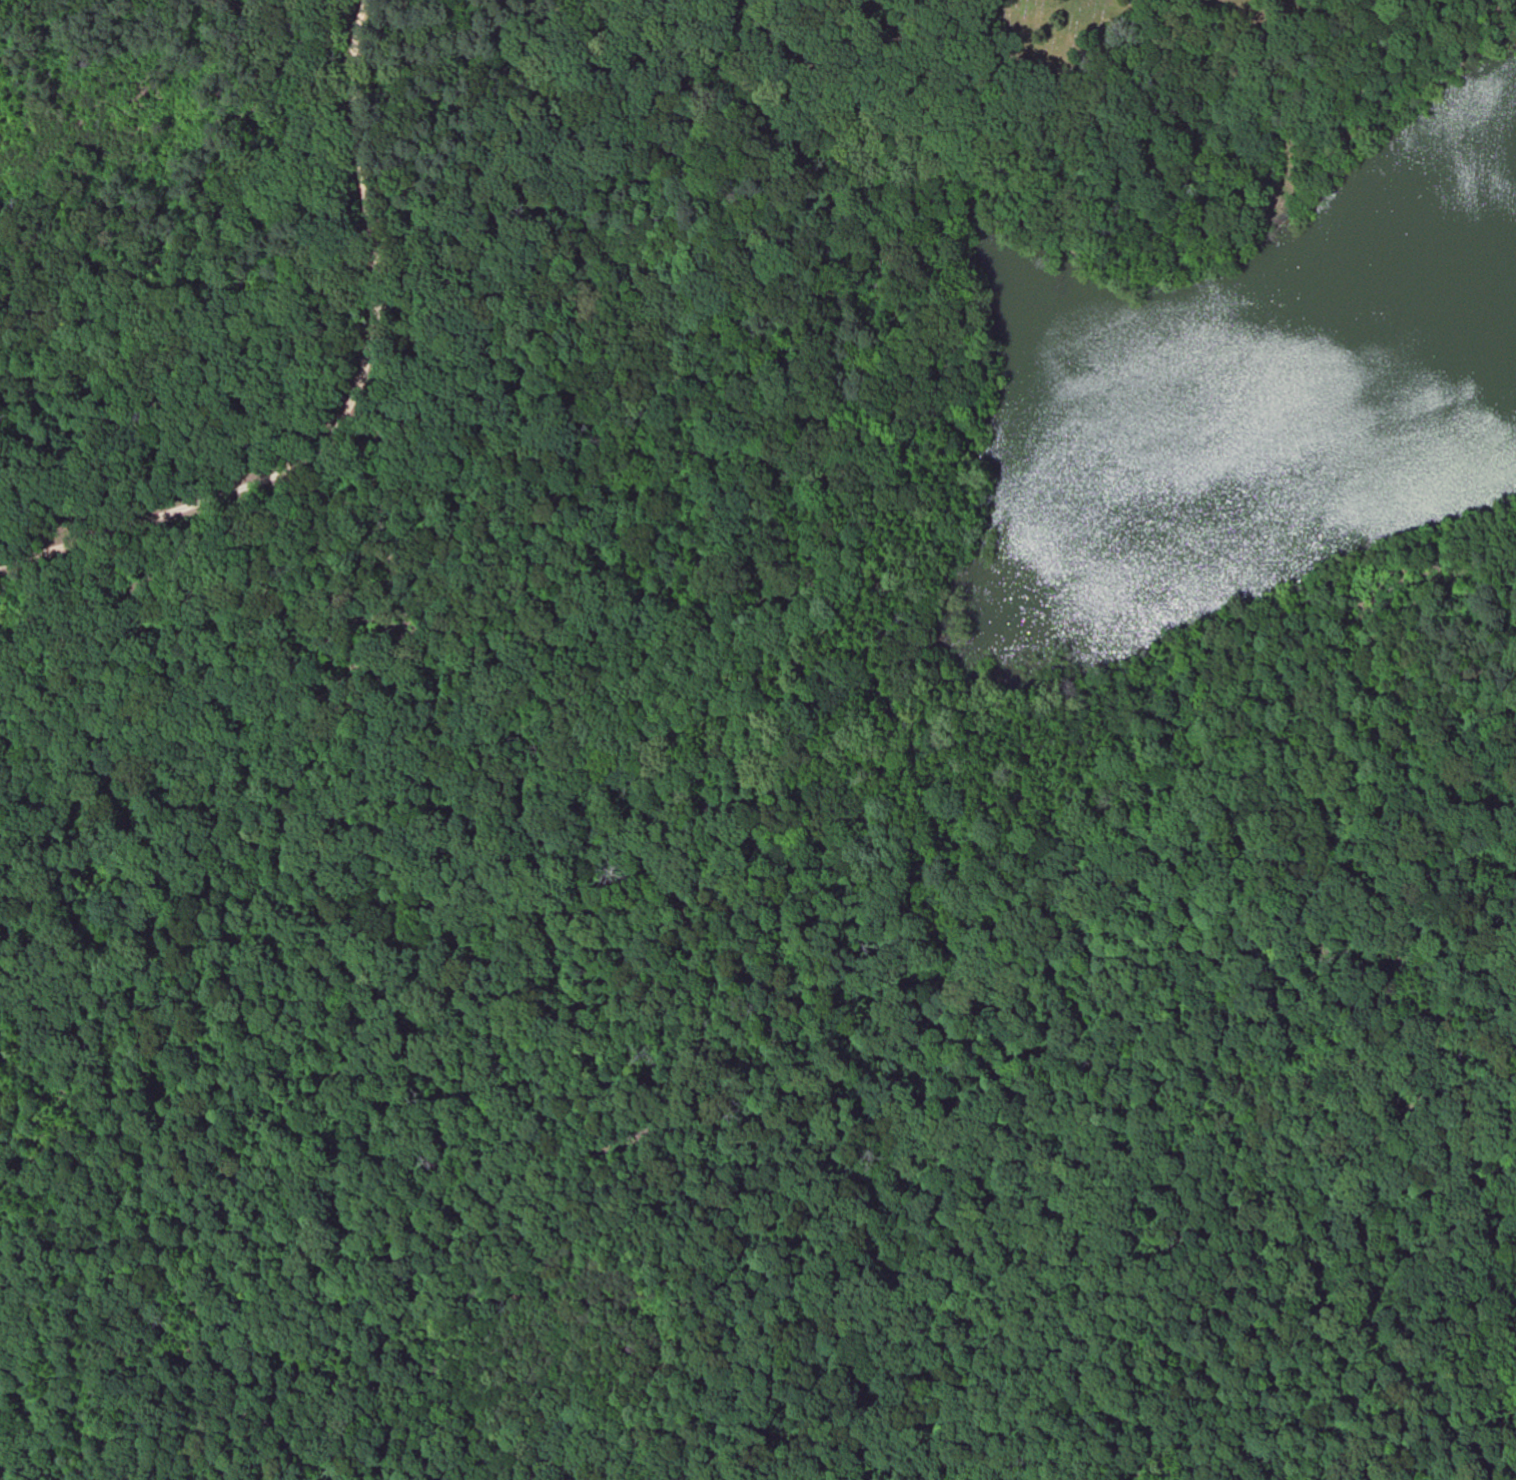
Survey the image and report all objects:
park: (1057, 30)
road: (312, 45)
road: (1258, 84)
road: (351, 396)

